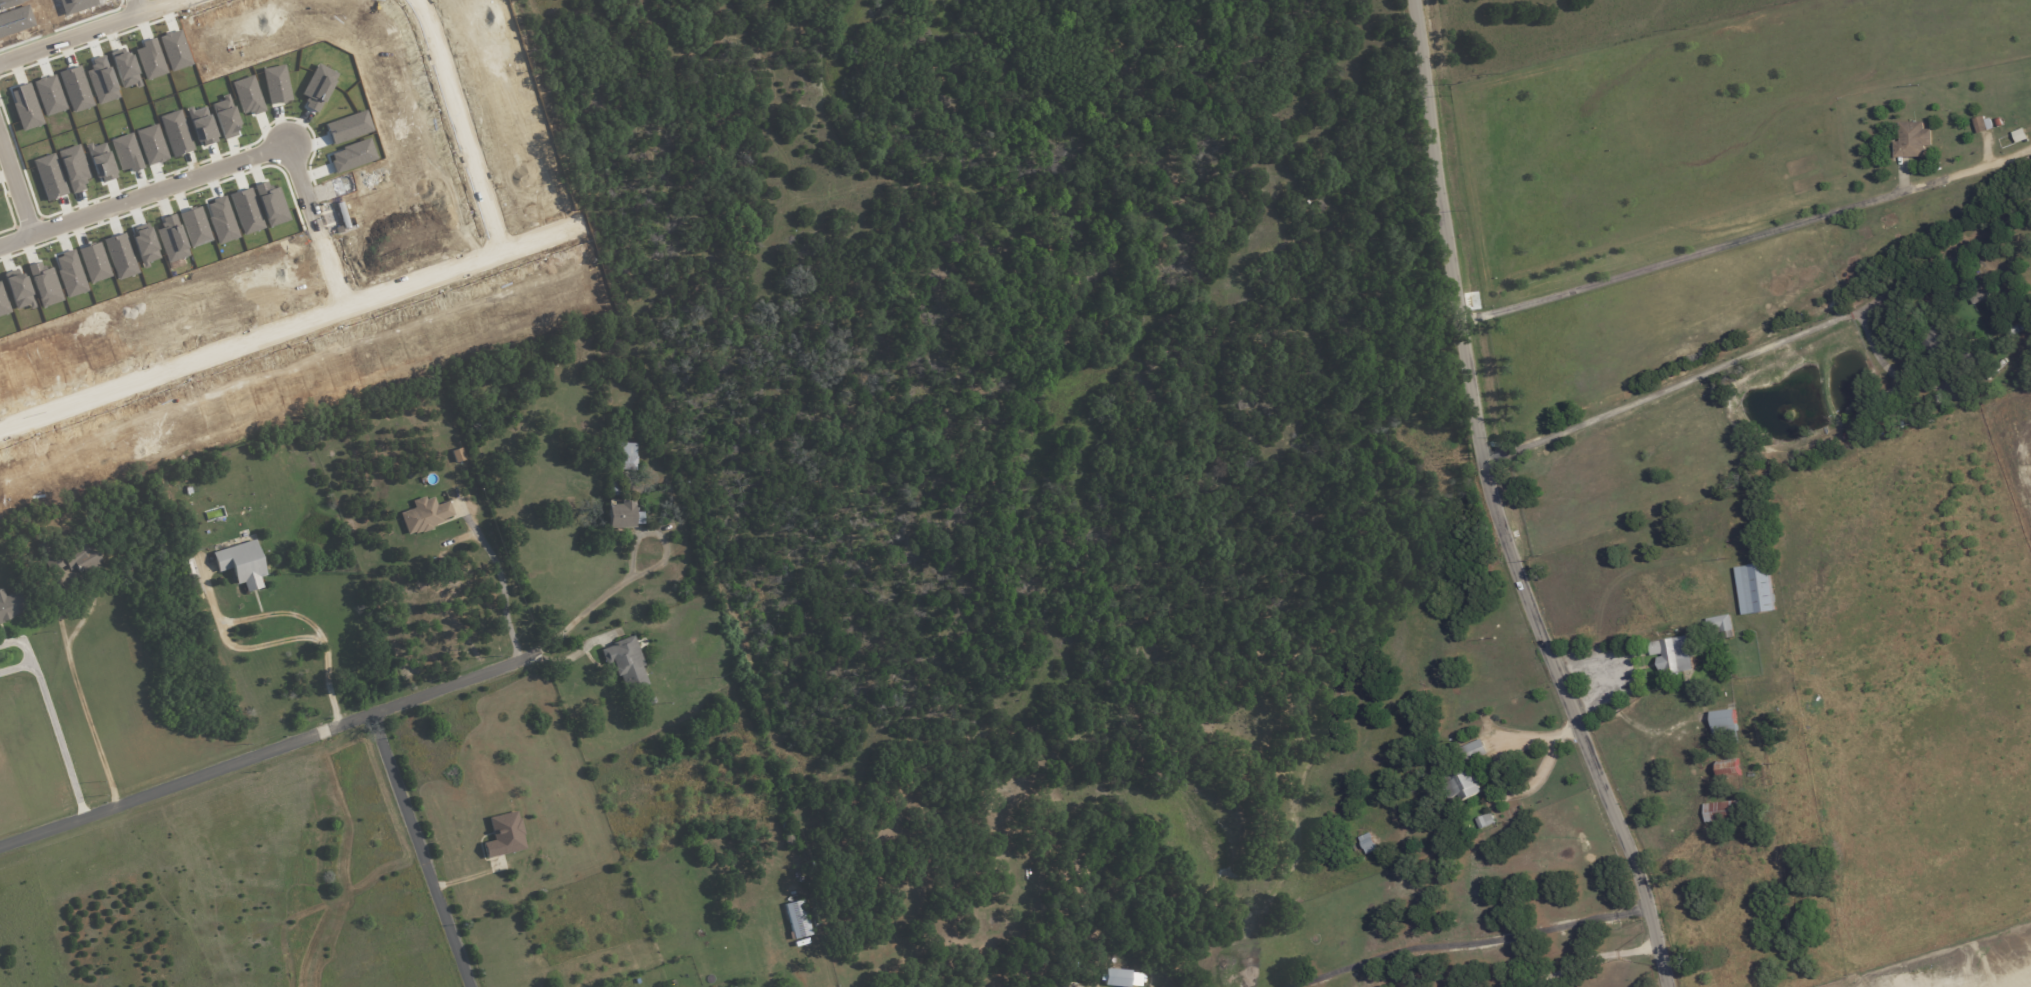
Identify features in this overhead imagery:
road: (133, 5)
road: (82, 29)
road: (453, 125)
building: (1912, 140)
road: (224, 162)
road: (16, 183)
road: (1681, 258)
road: (616, 270)
road: (281, 328)
road: (1713, 369)
building: (626, 456)
road: (1496, 505)
building: (425, 514)
building: (621, 515)
building: (240, 563)
road: (634, 575)
road: (500, 583)
building: (1755, 588)
building: (10, 605)
road: (290, 614)
building: (1721, 627)
road: (263, 644)
building: (1672, 653)
building: (625, 663)
road: (88, 700)
building: (1724, 722)
road: (57, 736)
building: (1475, 749)
road: (270, 752)
road: (1500, 756)
building: (1728, 768)
building: (1465, 784)
building: (1721, 811)
building: (1484, 820)
building: (504, 835)
building: (1368, 842)
road: (423, 851)
building: (797, 919)
road: (1466, 940)
road: (1579, 960)
road: (797, 972)
building: (1116, 977)

